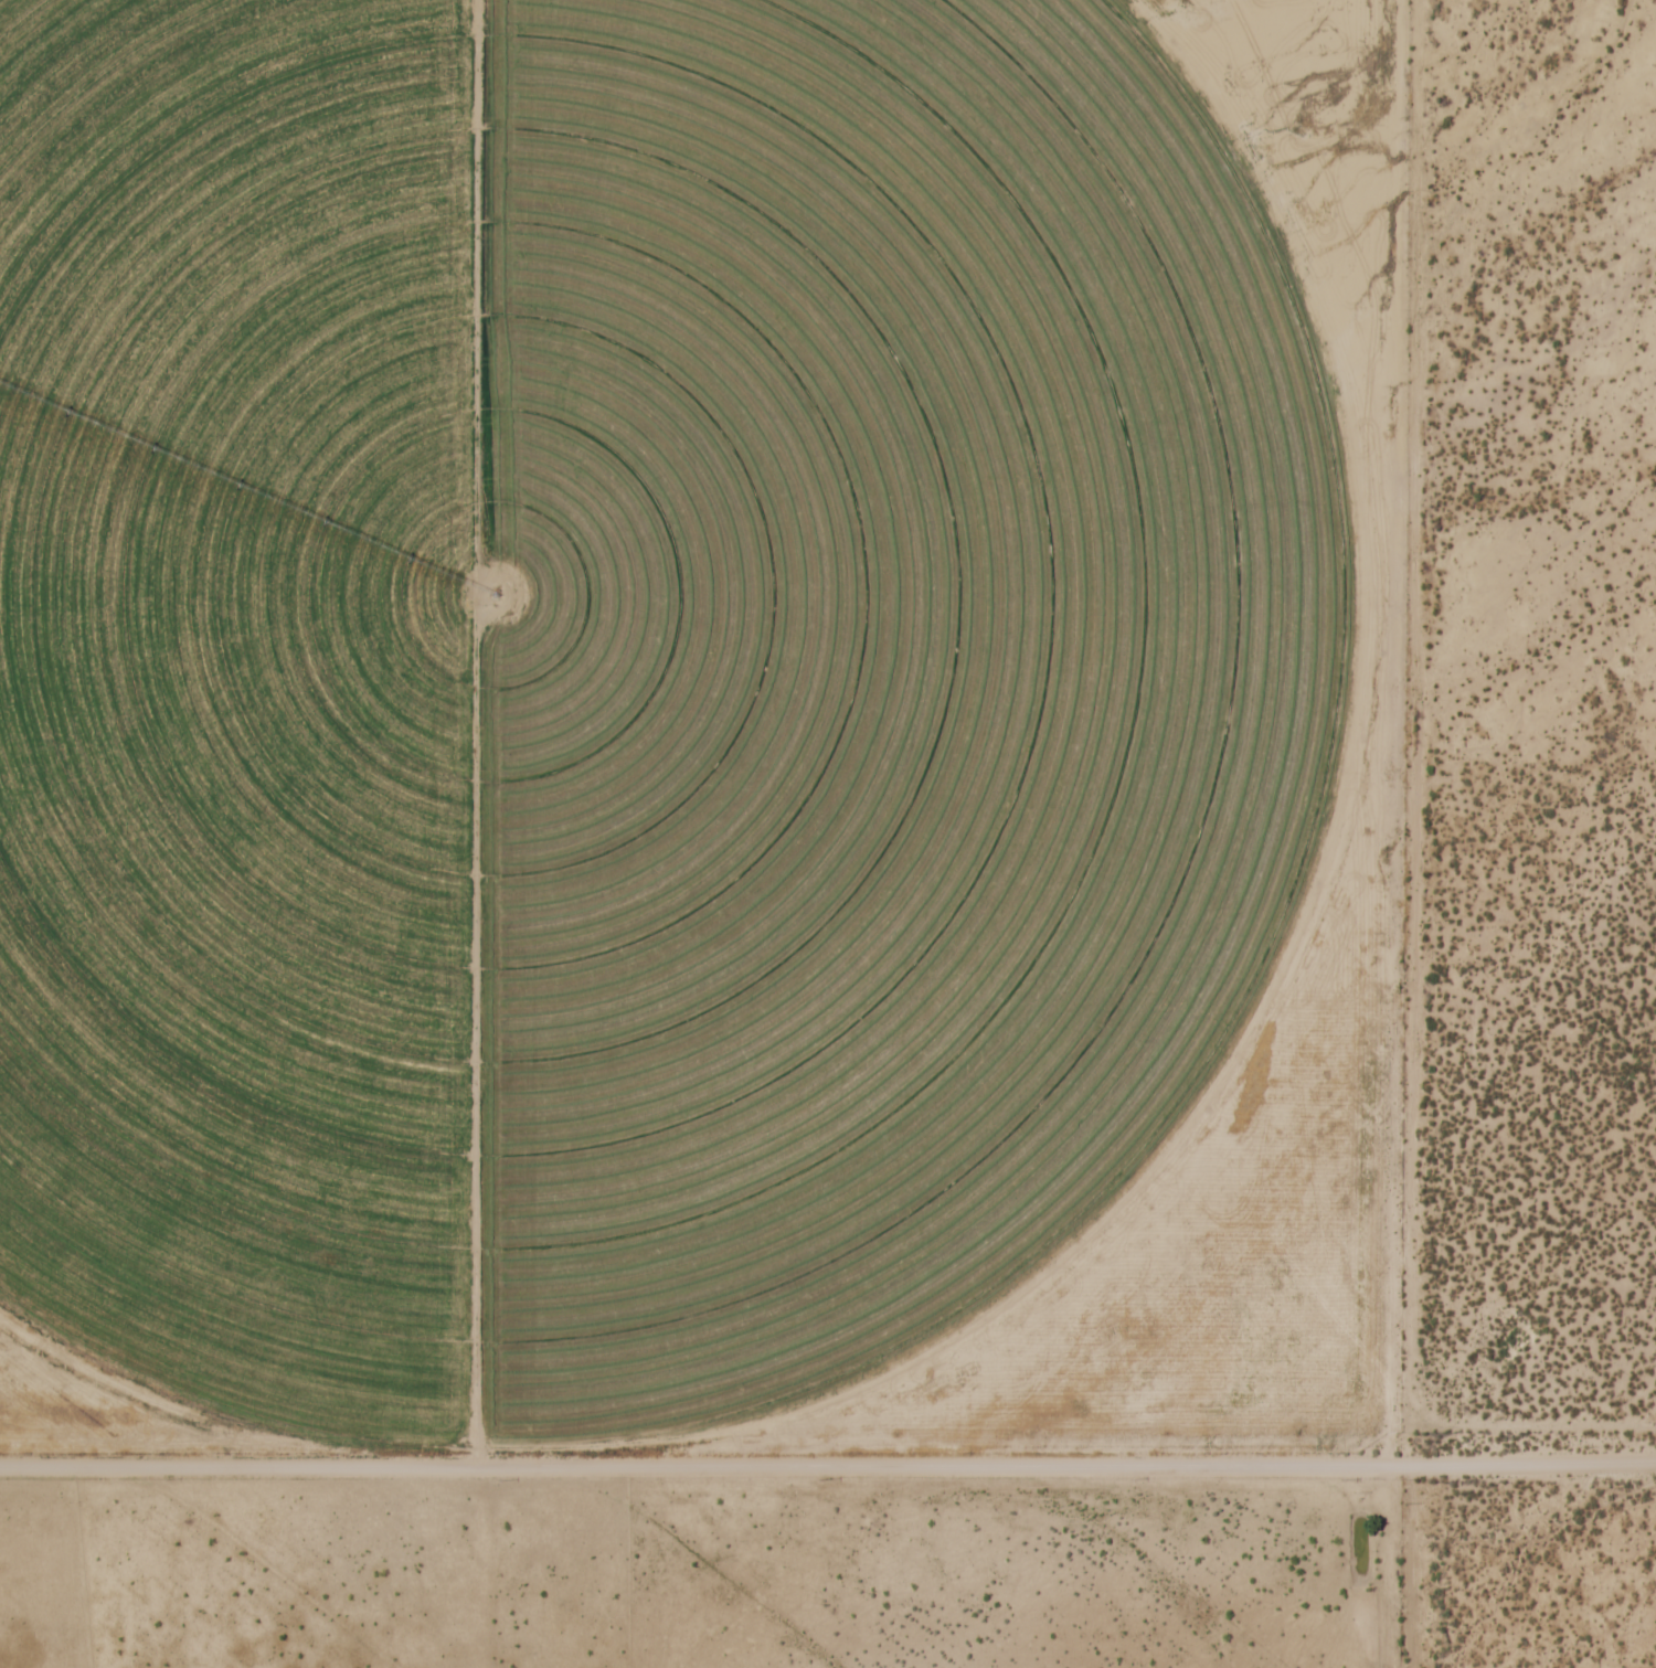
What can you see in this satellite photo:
crop: (637, 690)
road: (1415, 825)
road: (704, 1465)
road: (1532, 1465)

